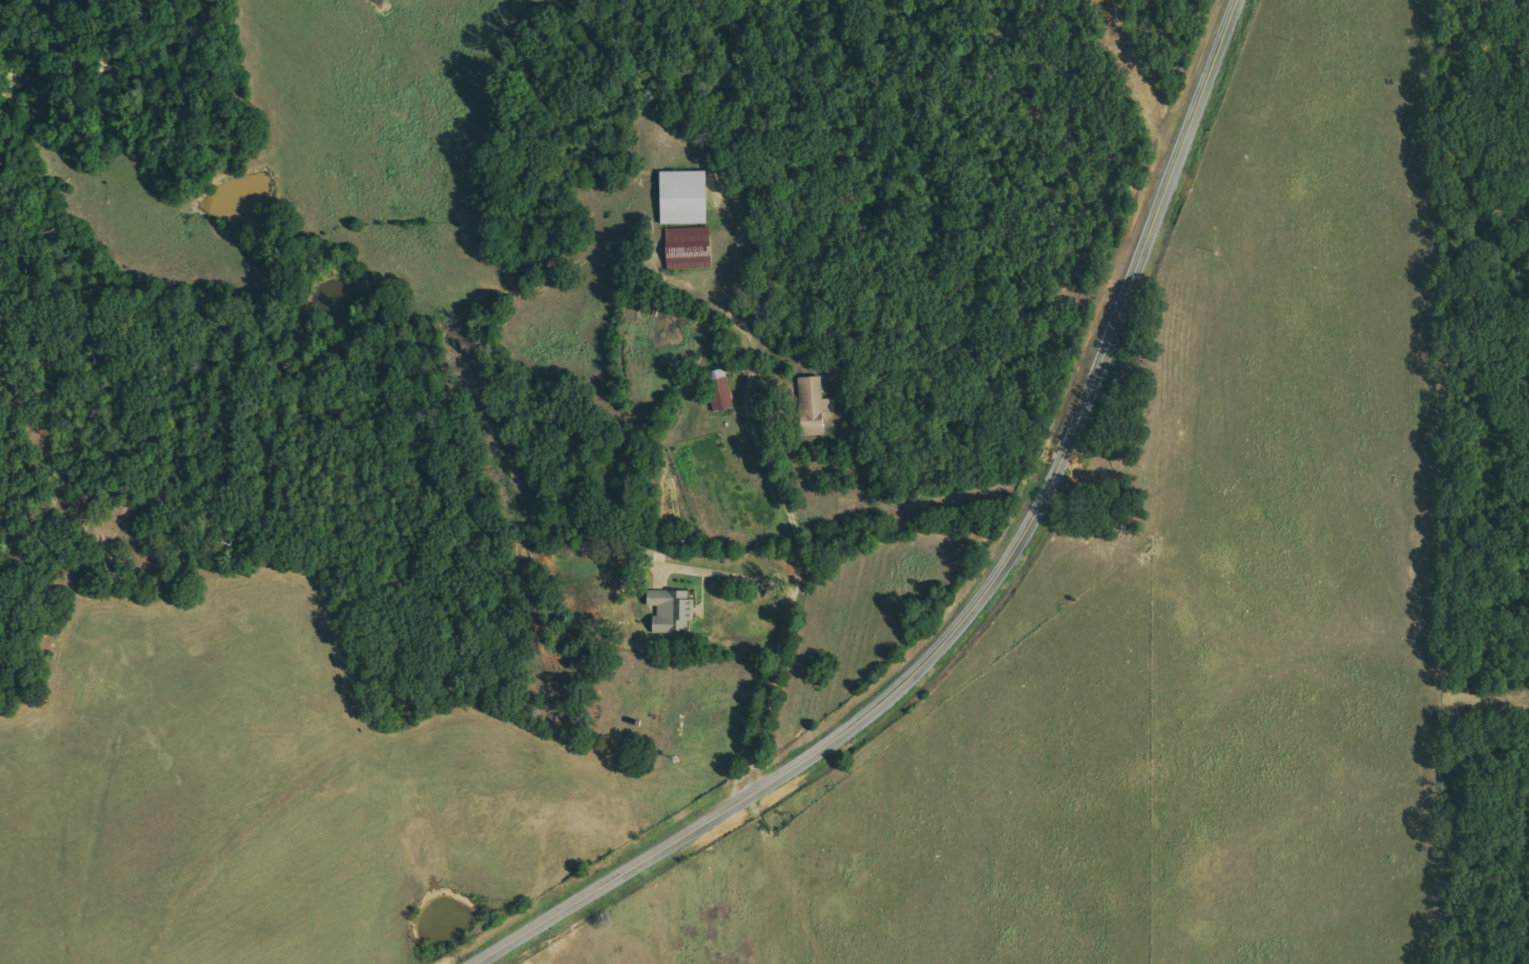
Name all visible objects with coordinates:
building: (683, 197)
building: (688, 248)
building: (813, 406)
road: (987, 589)
building: (671, 611)
road: (786, 625)

